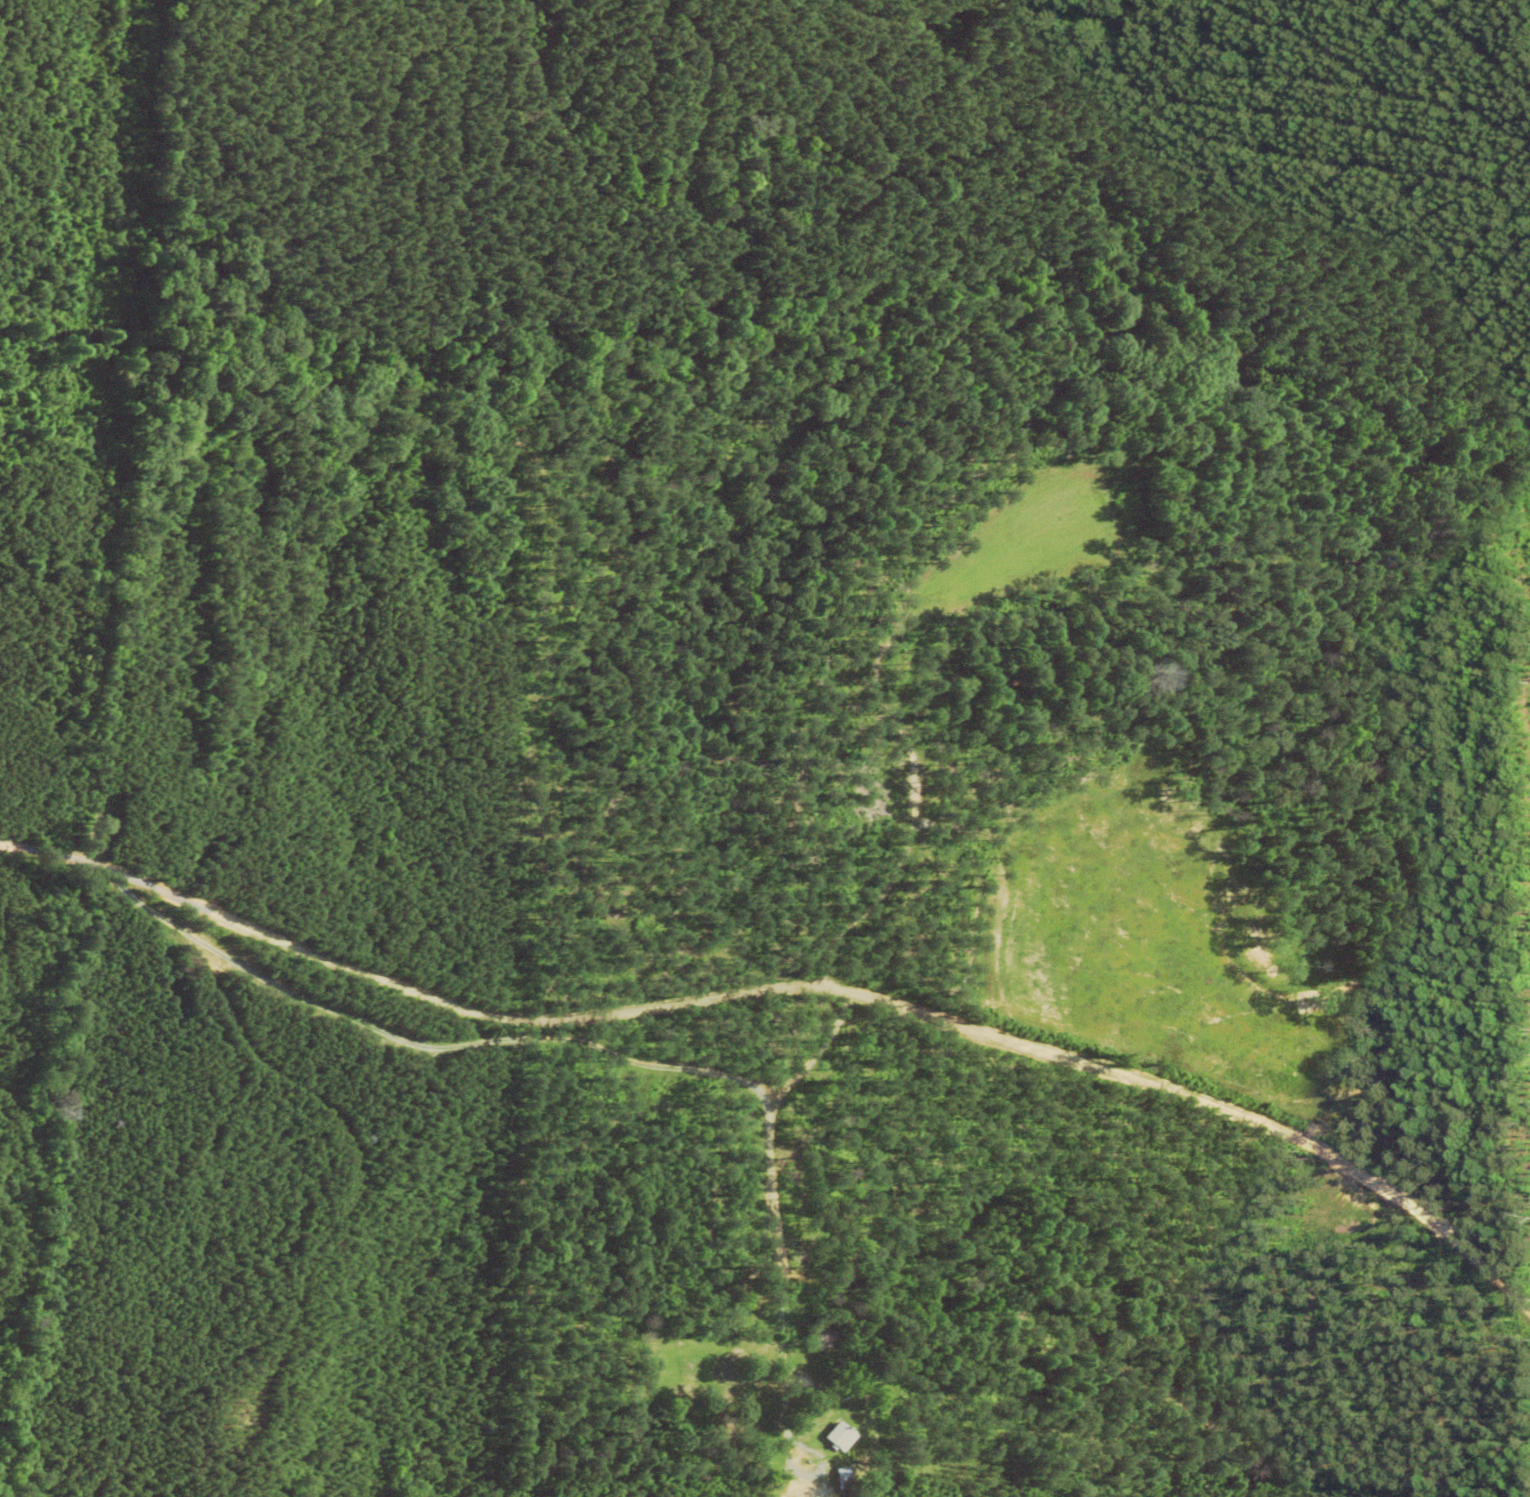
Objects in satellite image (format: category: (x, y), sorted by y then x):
road: (69, 855)
road: (851, 974)
building: (821, 1339)
building: (841, 1438)
building: (841, 1480)

